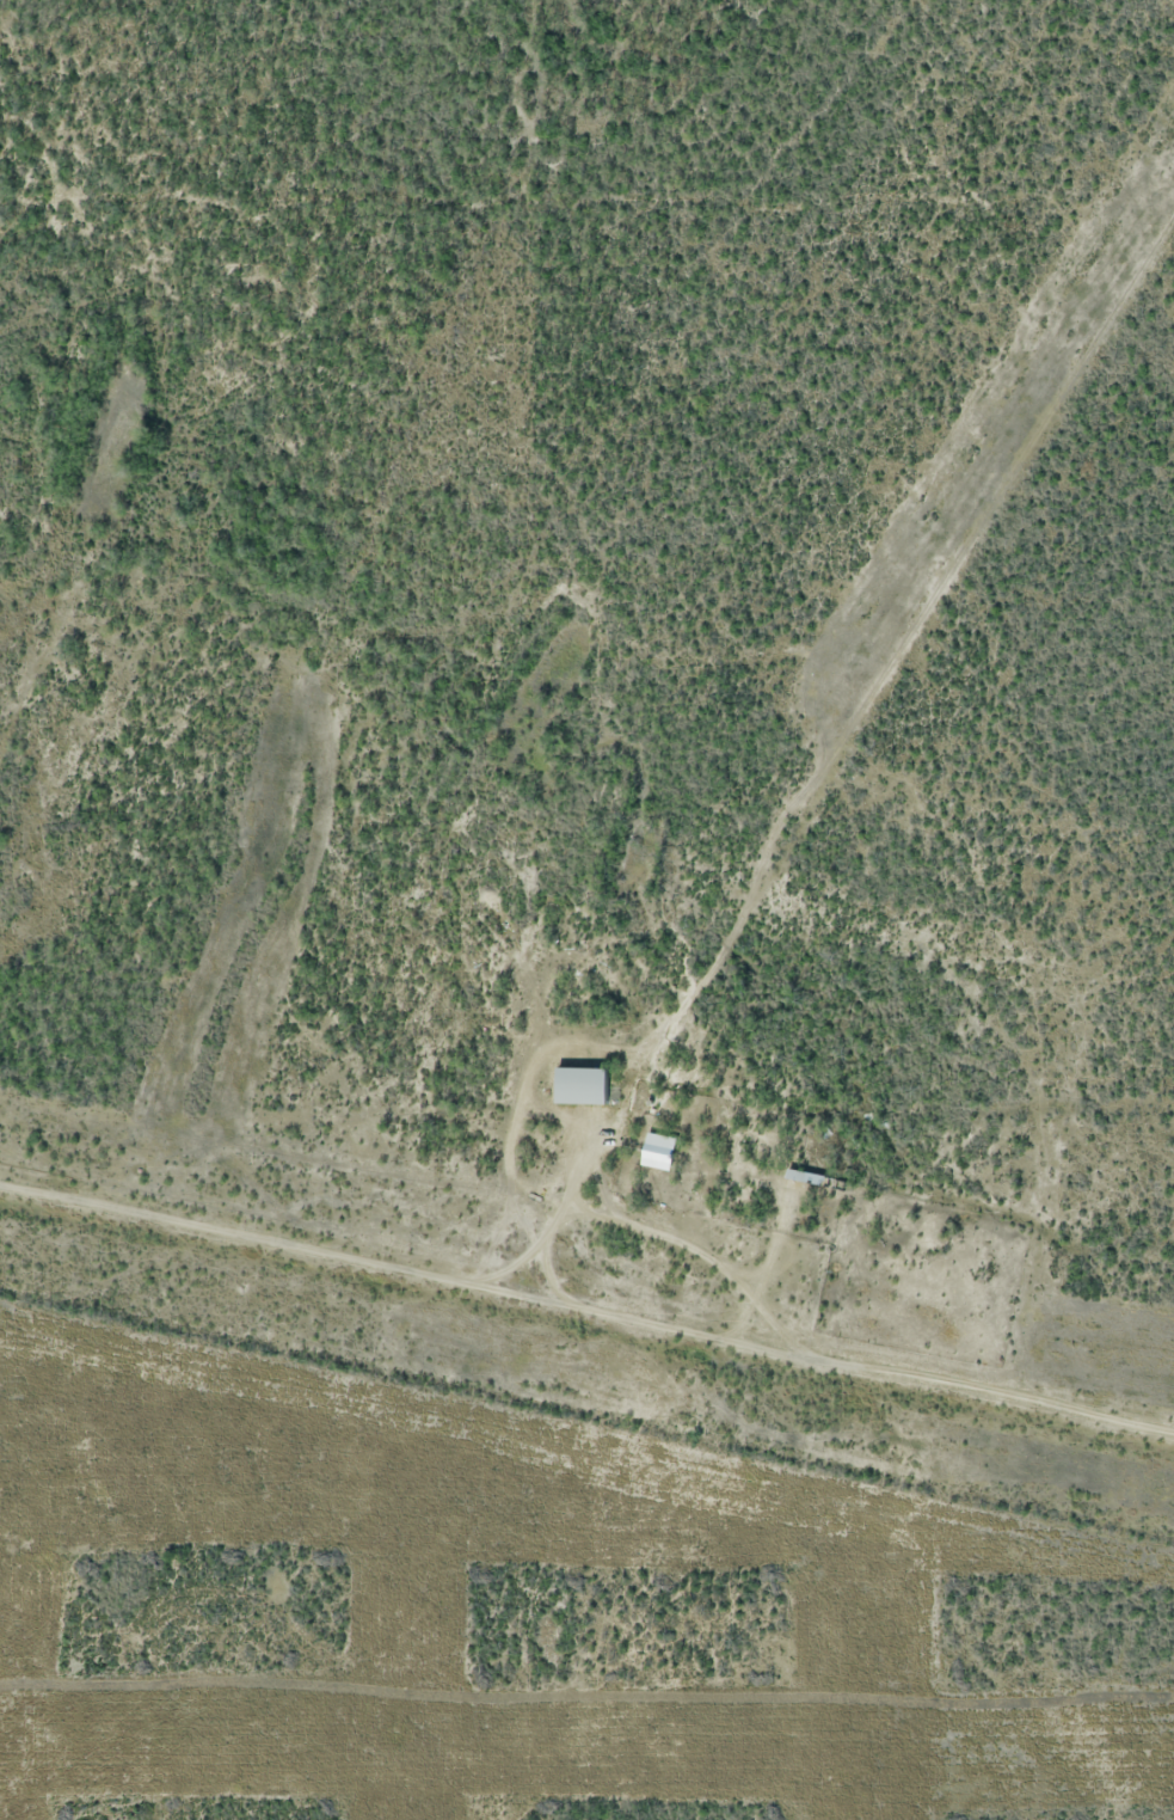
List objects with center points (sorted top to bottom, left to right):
building: (658, 1152)
road: (586, 1307)

